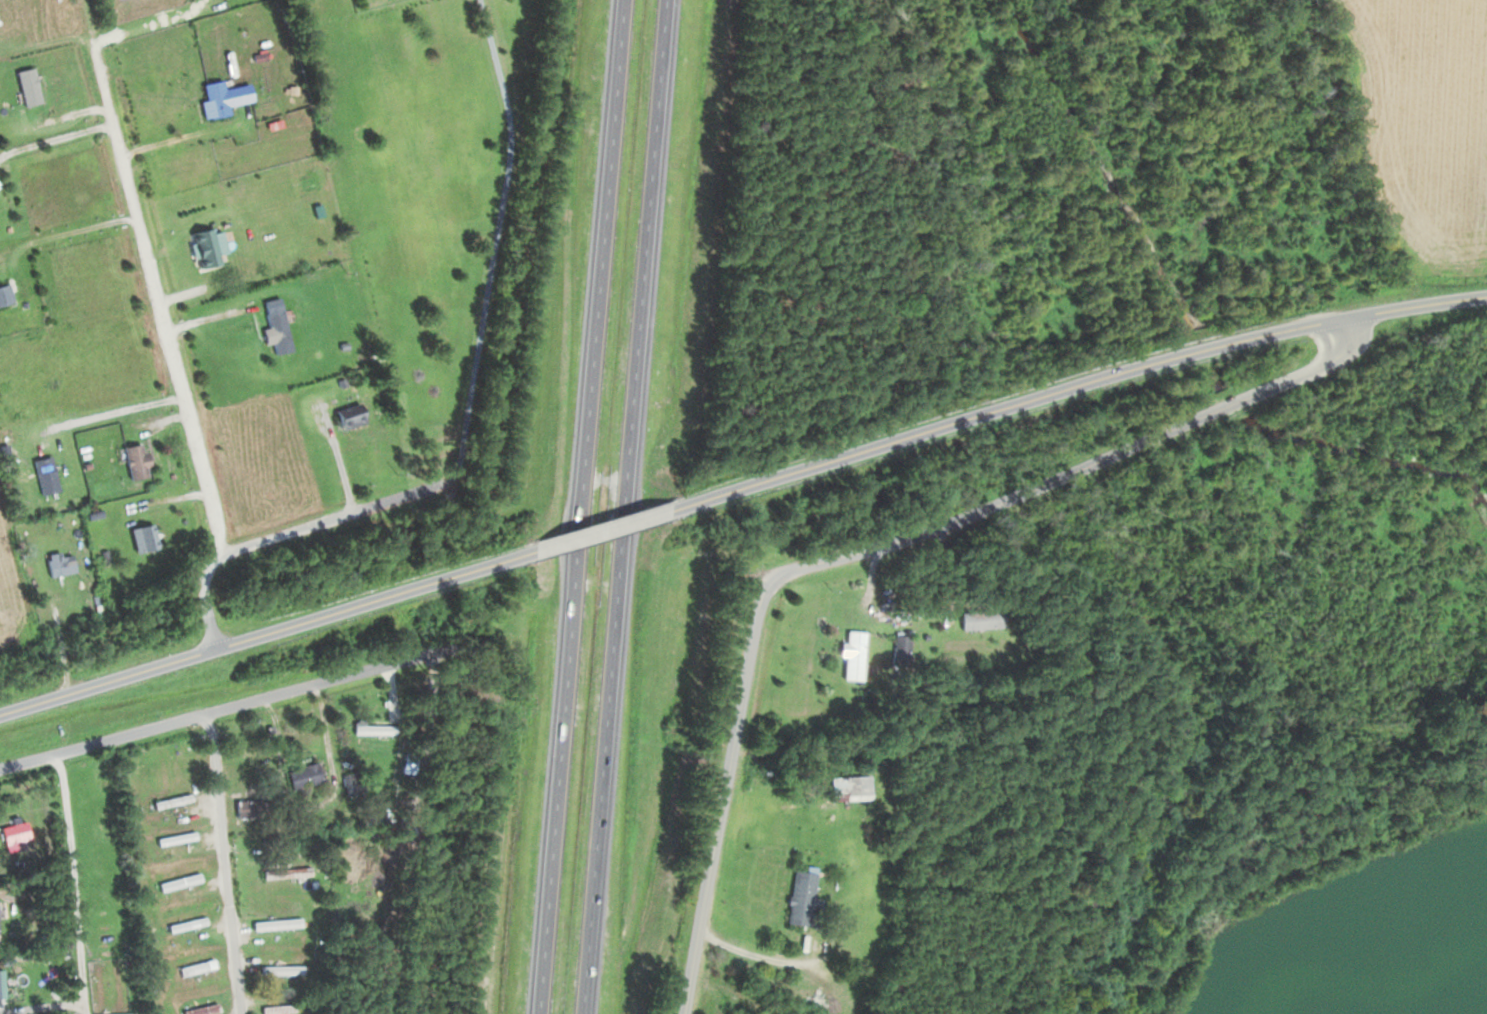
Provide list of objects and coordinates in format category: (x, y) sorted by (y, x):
building: (221, 97)
road: (497, 240)
building: (203, 246)
building: (3, 291)
road: (151, 295)
building: (274, 326)
road: (1073, 385)
building: (348, 415)
building: (133, 460)
road: (581, 506)
road: (625, 506)
road: (602, 529)
road: (290, 532)
building: (142, 536)
road: (871, 547)
building: (58, 564)
building: (980, 618)
road: (267, 631)
building: (898, 649)
building: (851, 654)
building: (372, 729)
road: (211, 764)
building: (301, 775)
building: (845, 786)
building: (171, 801)
building: (250, 808)
building: (14, 835)
building: (175, 839)
building: (285, 873)
building: (178, 882)
building: (800, 900)
building: (185, 924)
building: (275, 924)
road: (192, 932)
building: (196, 967)
building: (281, 970)
building: (277, 1008)
building: (114, 1013)

